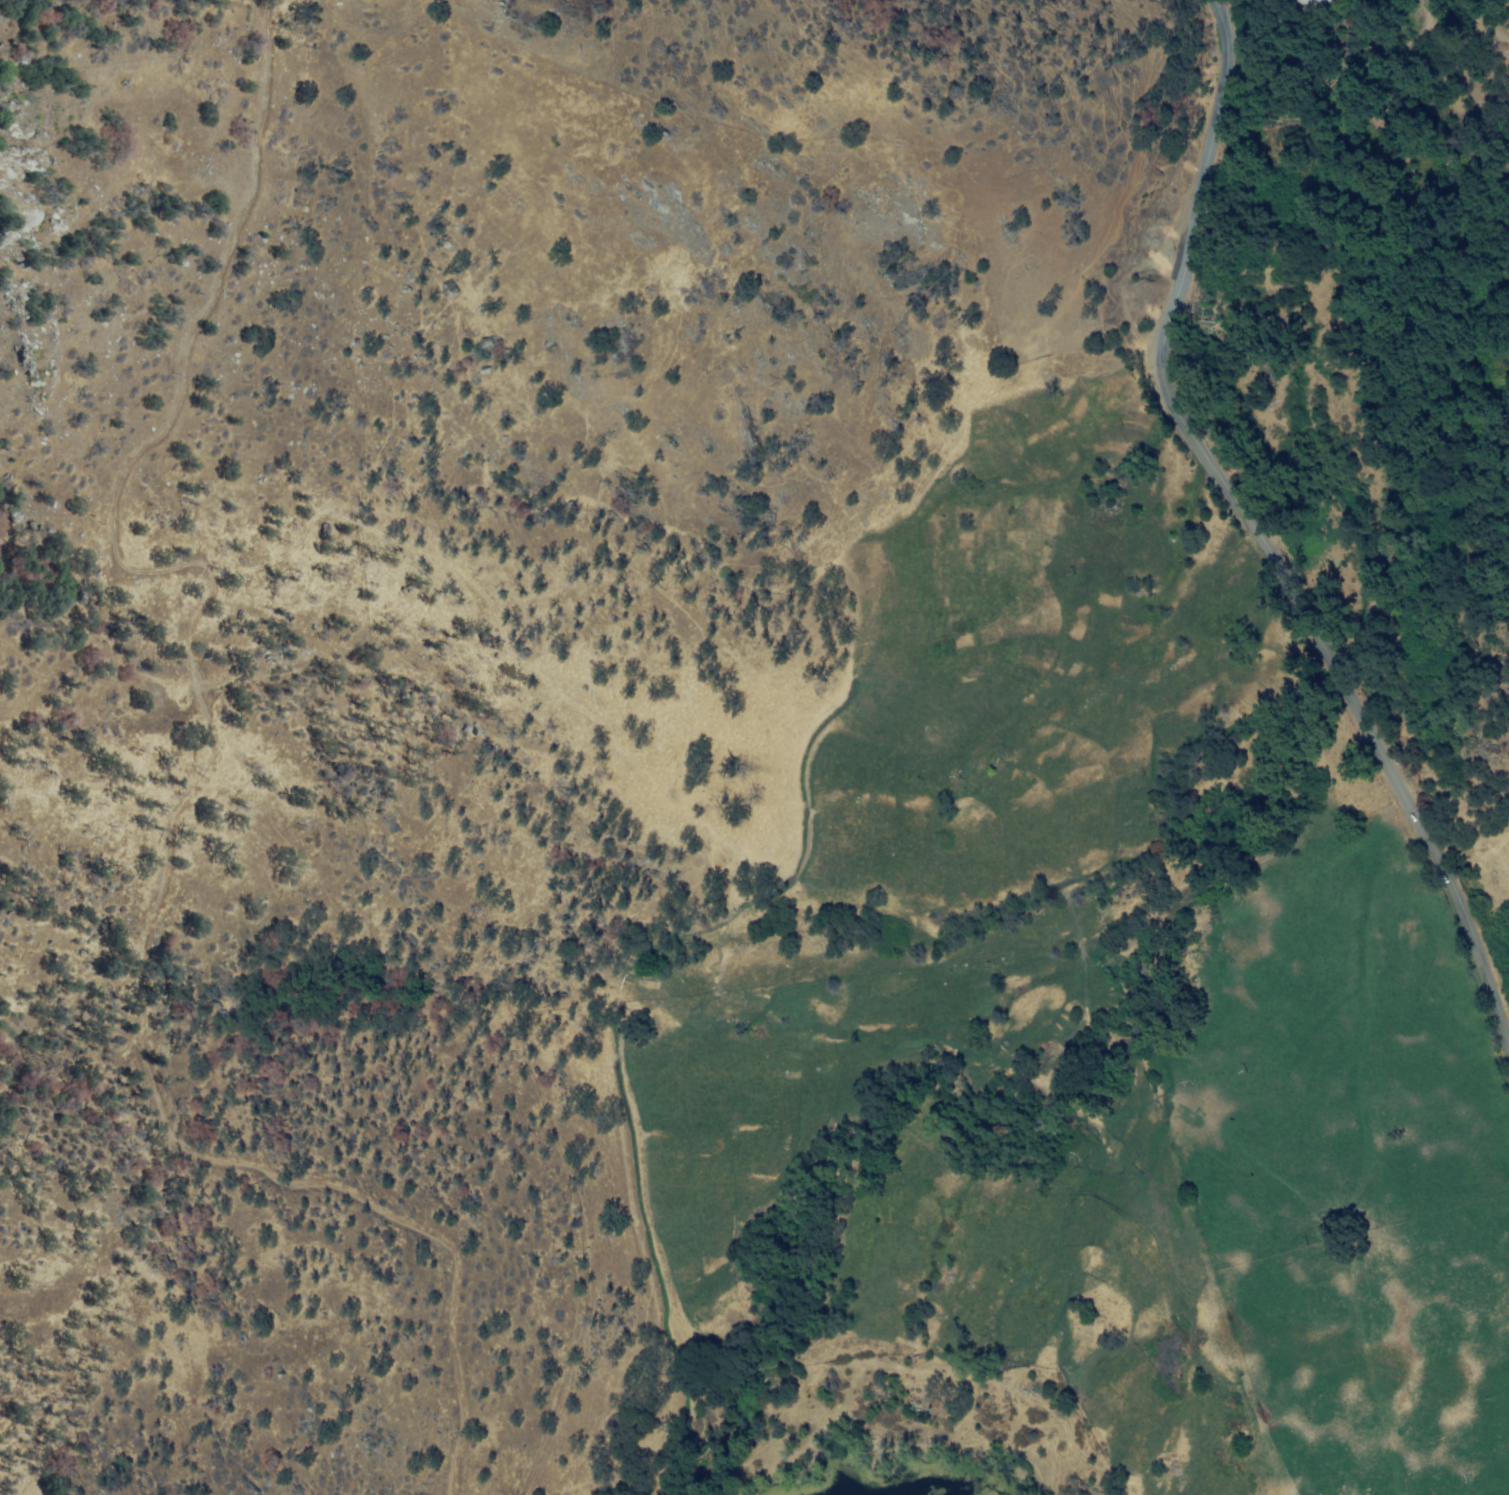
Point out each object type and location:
road: (1253, 538)

